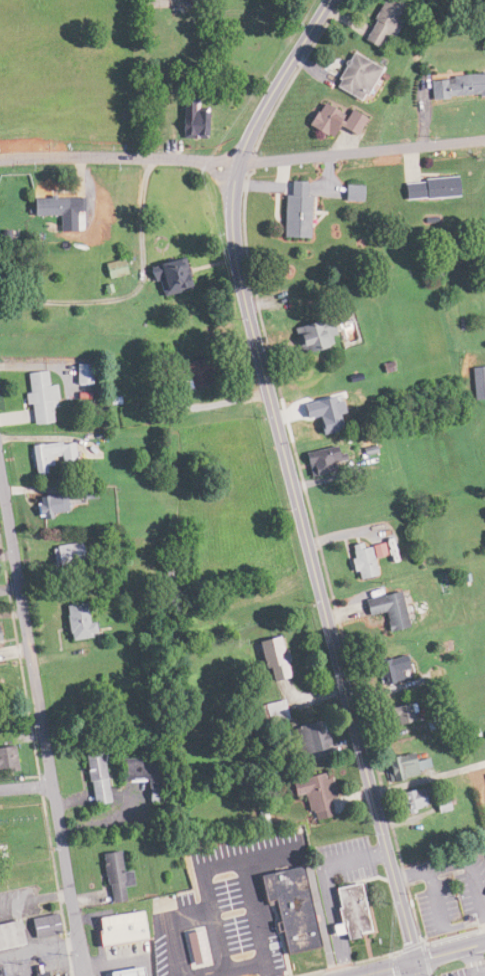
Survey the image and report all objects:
building: (378, 23)
building: (352, 75)
building: (455, 85)
building: (188, 118)
building: (332, 120)
road: (242, 170)
building: (428, 188)
building: (54, 205)
building: (293, 209)
building: (110, 268)
building: (166, 276)
building: (311, 335)
building: (82, 373)
building: (194, 373)
building: (478, 382)
building: (38, 396)
building: (46, 454)
building: (320, 460)
road: (290, 473)
building: (47, 505)
building: (65, 553)
building: (360, 559)
building: (384, 609)
building: (74, 621)
building: (271, 658)
building: (393, 668)
building: (272, 712)
building: (399, 713)
road: (42, 721)
building: (308, 737)
building: (6, 758)
building: (399, 765)
building: (94, 775)
road: (26, 787)
building: (309, 794)
building: (411, 798)
building: (110, 876)
road: (35, 899)
building: (296, 905)
building: (349, 909)
building: (41, 925)
building: (116, 928)
building: (10, 933)
road: (454, 937)
road: (421, 959)
road: (469, 961)
road: (413, 969)
building: (35, 970)
building: (0, 975)

